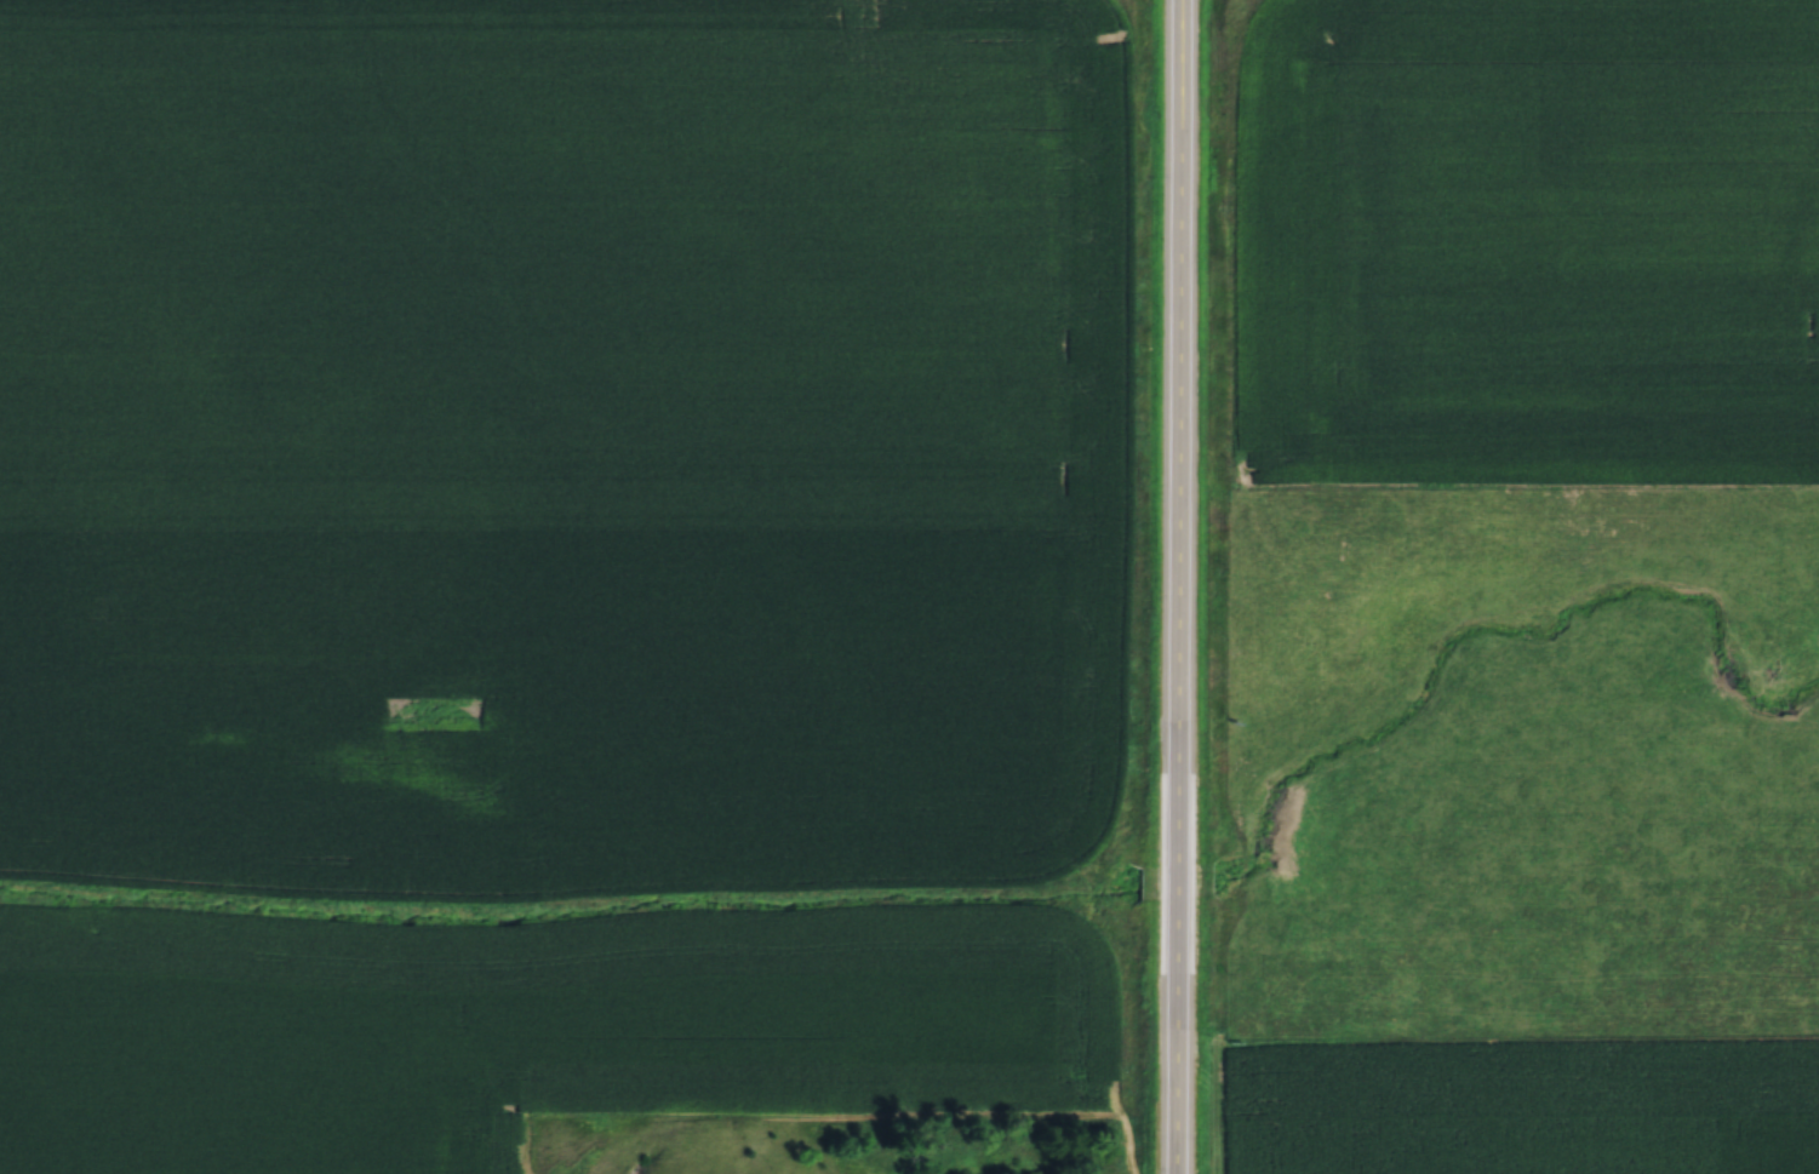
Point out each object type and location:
road: (1177, 428)
road: (1174, 874)
road: (1174, 1032)

